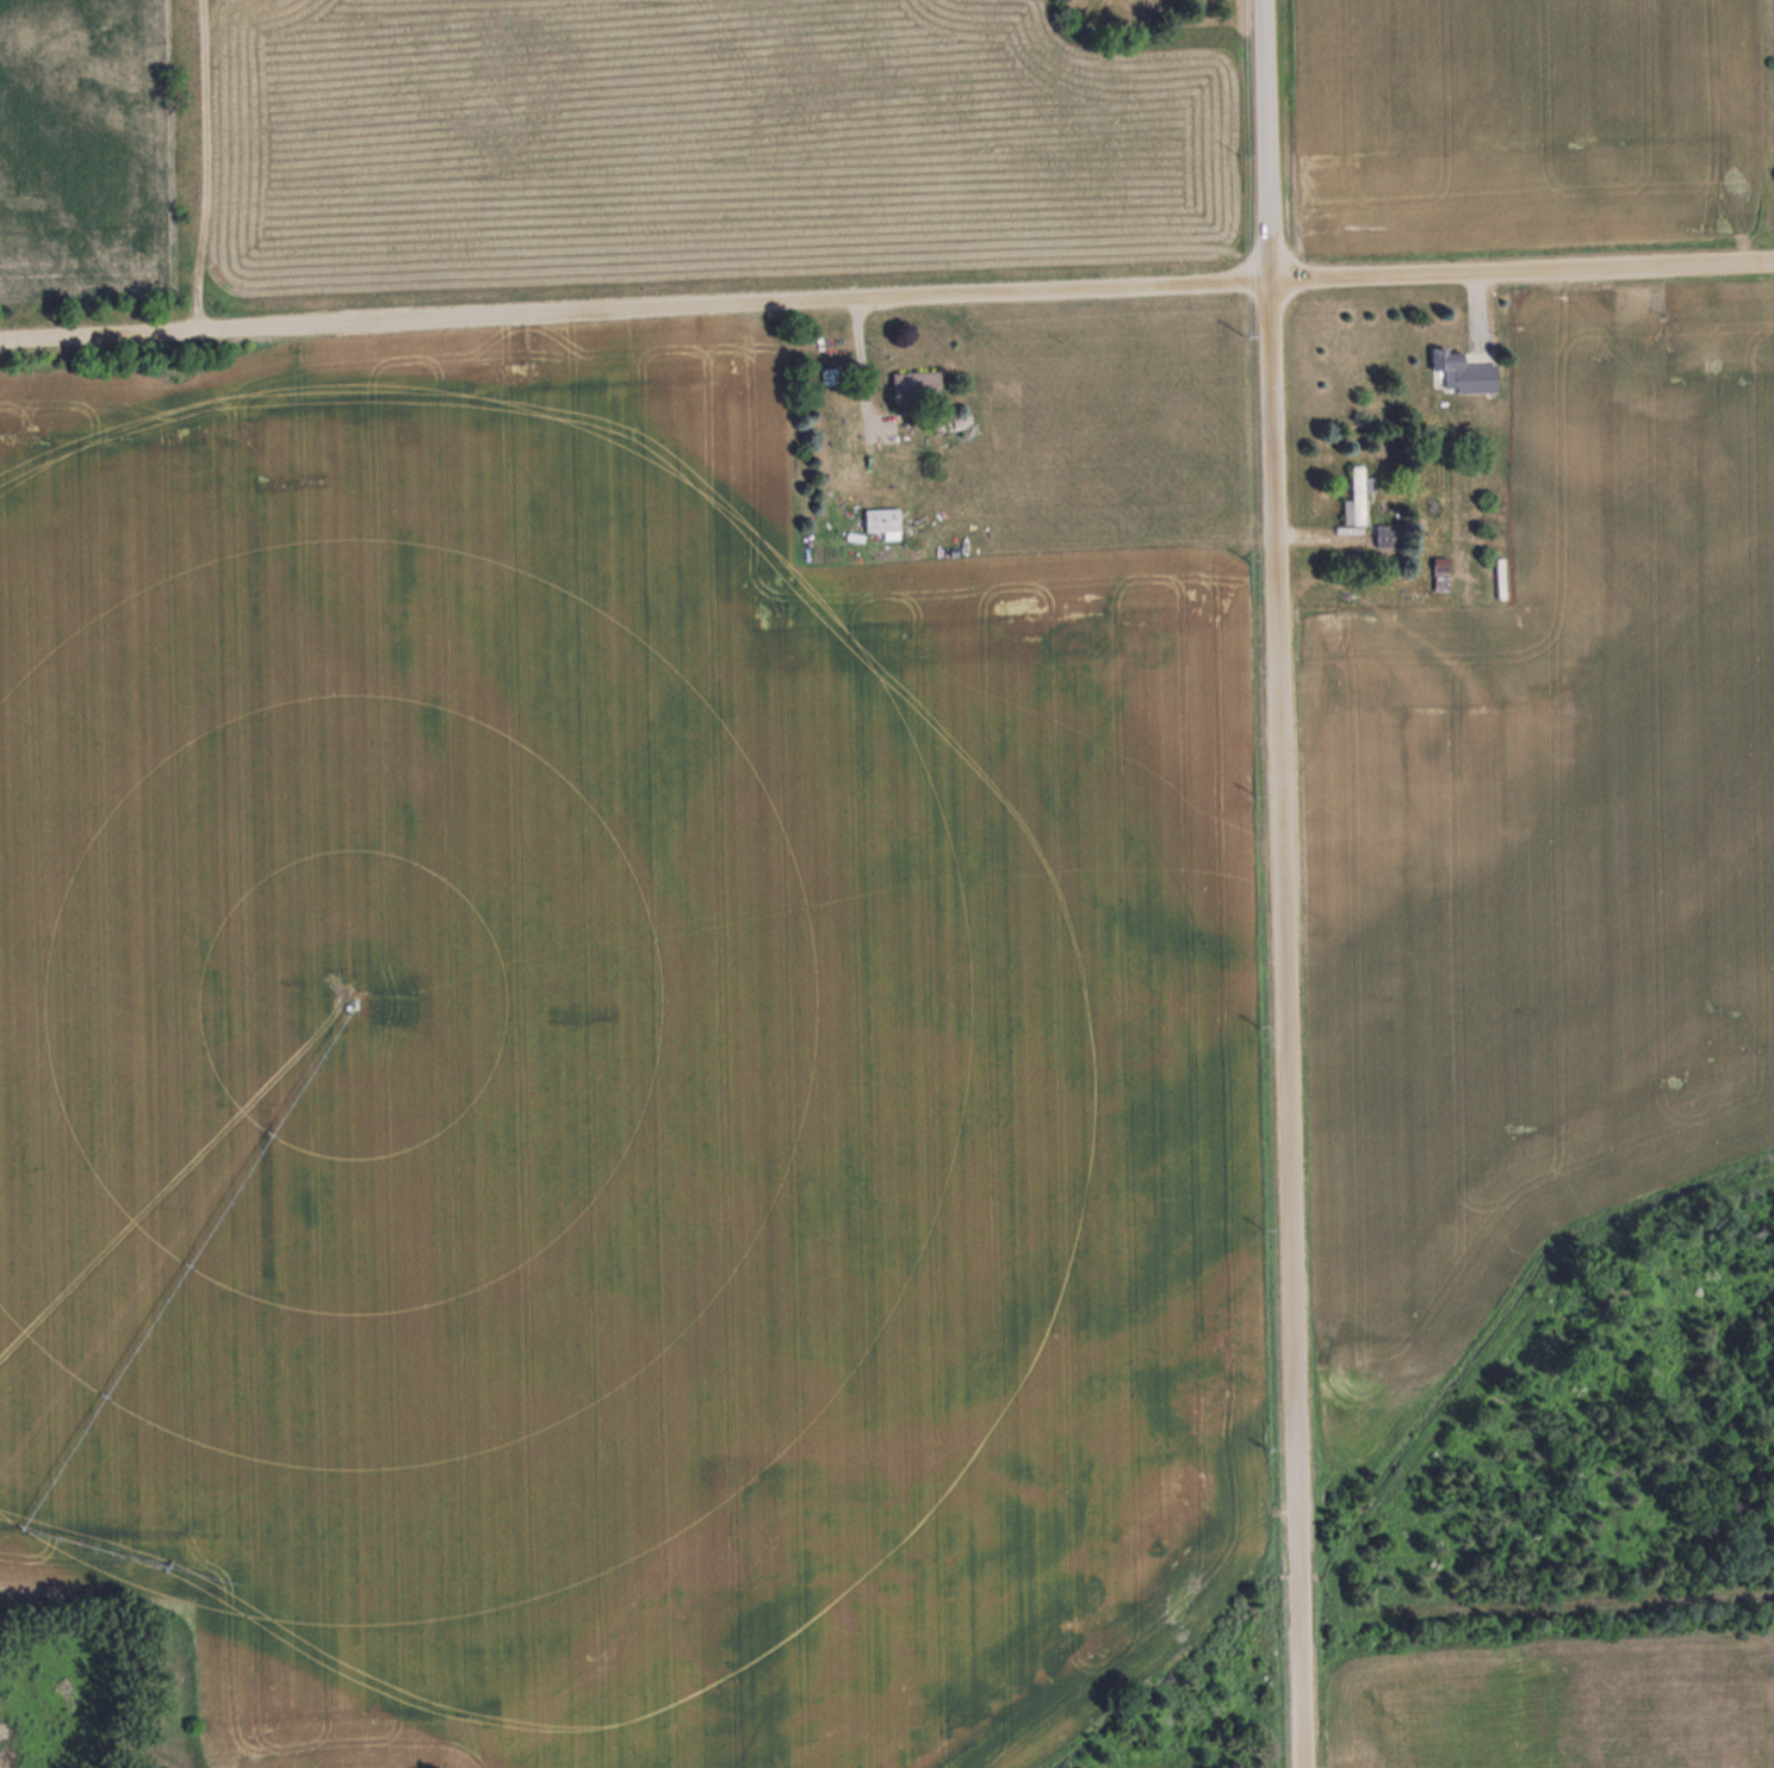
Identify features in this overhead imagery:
road: (886, 296)
building: (1460, 373)
building: (916, 384)
building: (1357, 496)
building: (881, 519)
building: (1385, 535)
road: (1280, 883)

